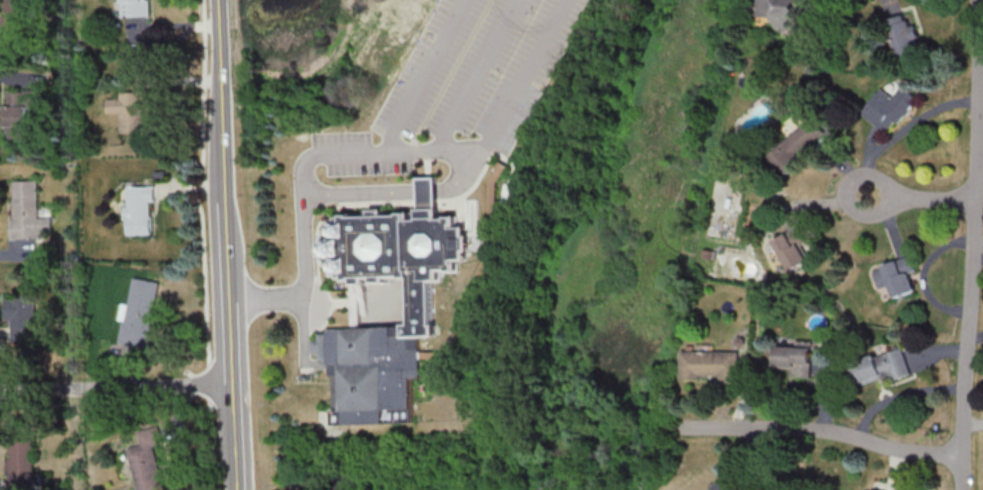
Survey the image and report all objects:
building: (133, 8)
building: (16, 10)
building: (780, 12)
building: (905, 35)
road: (476, 75)
road: (427, 77)
parking lot: (459, 91)
building: (889, 108)
building: (131, 111)
building: (19, 112)
road: (902, 130)
building: (799, 146)
road: (370, 154)
road: (918, 197)
building: (141, 210)
building: (28, 212)
road: (204, 241)
road: (226, 245)
road: (968, 245)
building: (795, 248)
road: (975, 256)
building: (894, 278)
building: (425, 301)
building: (19, 311)
building: (140, 313)
road: (973, 336)
building: (796, 360)
building: (711, 366)
building: (880, 367)
road: (115, 388)
road: (898, 393)
road: (816, 430)
building: (147, 460)
building: (20, 462)

